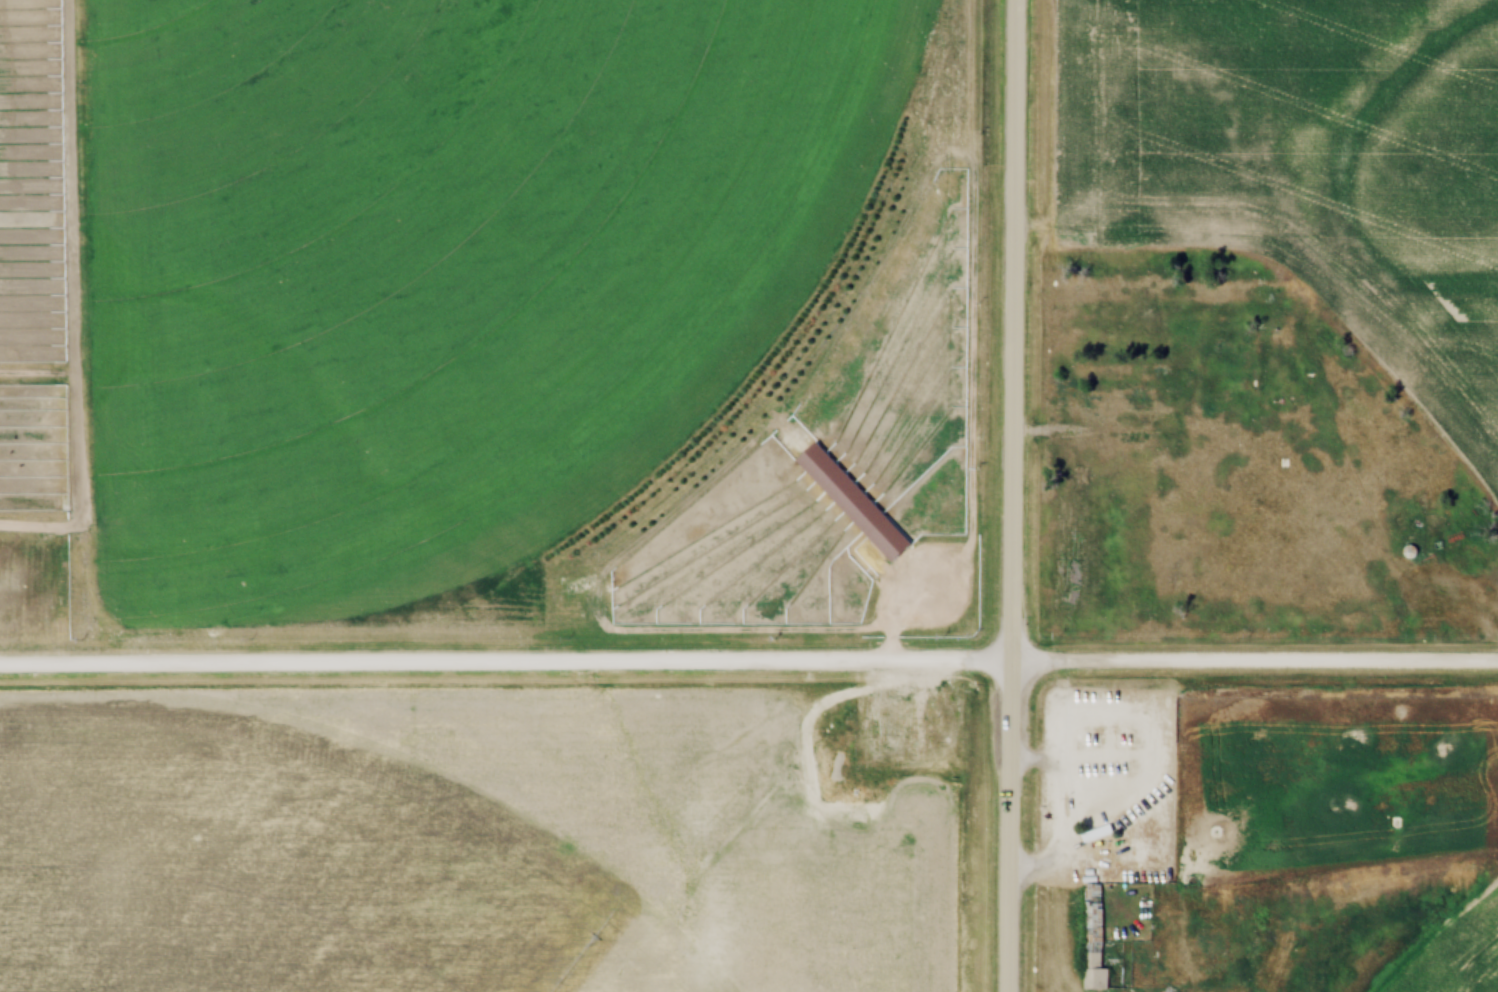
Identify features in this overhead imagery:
road: (1009, 496)
road: (748, 665)
building: (1094, 952)

